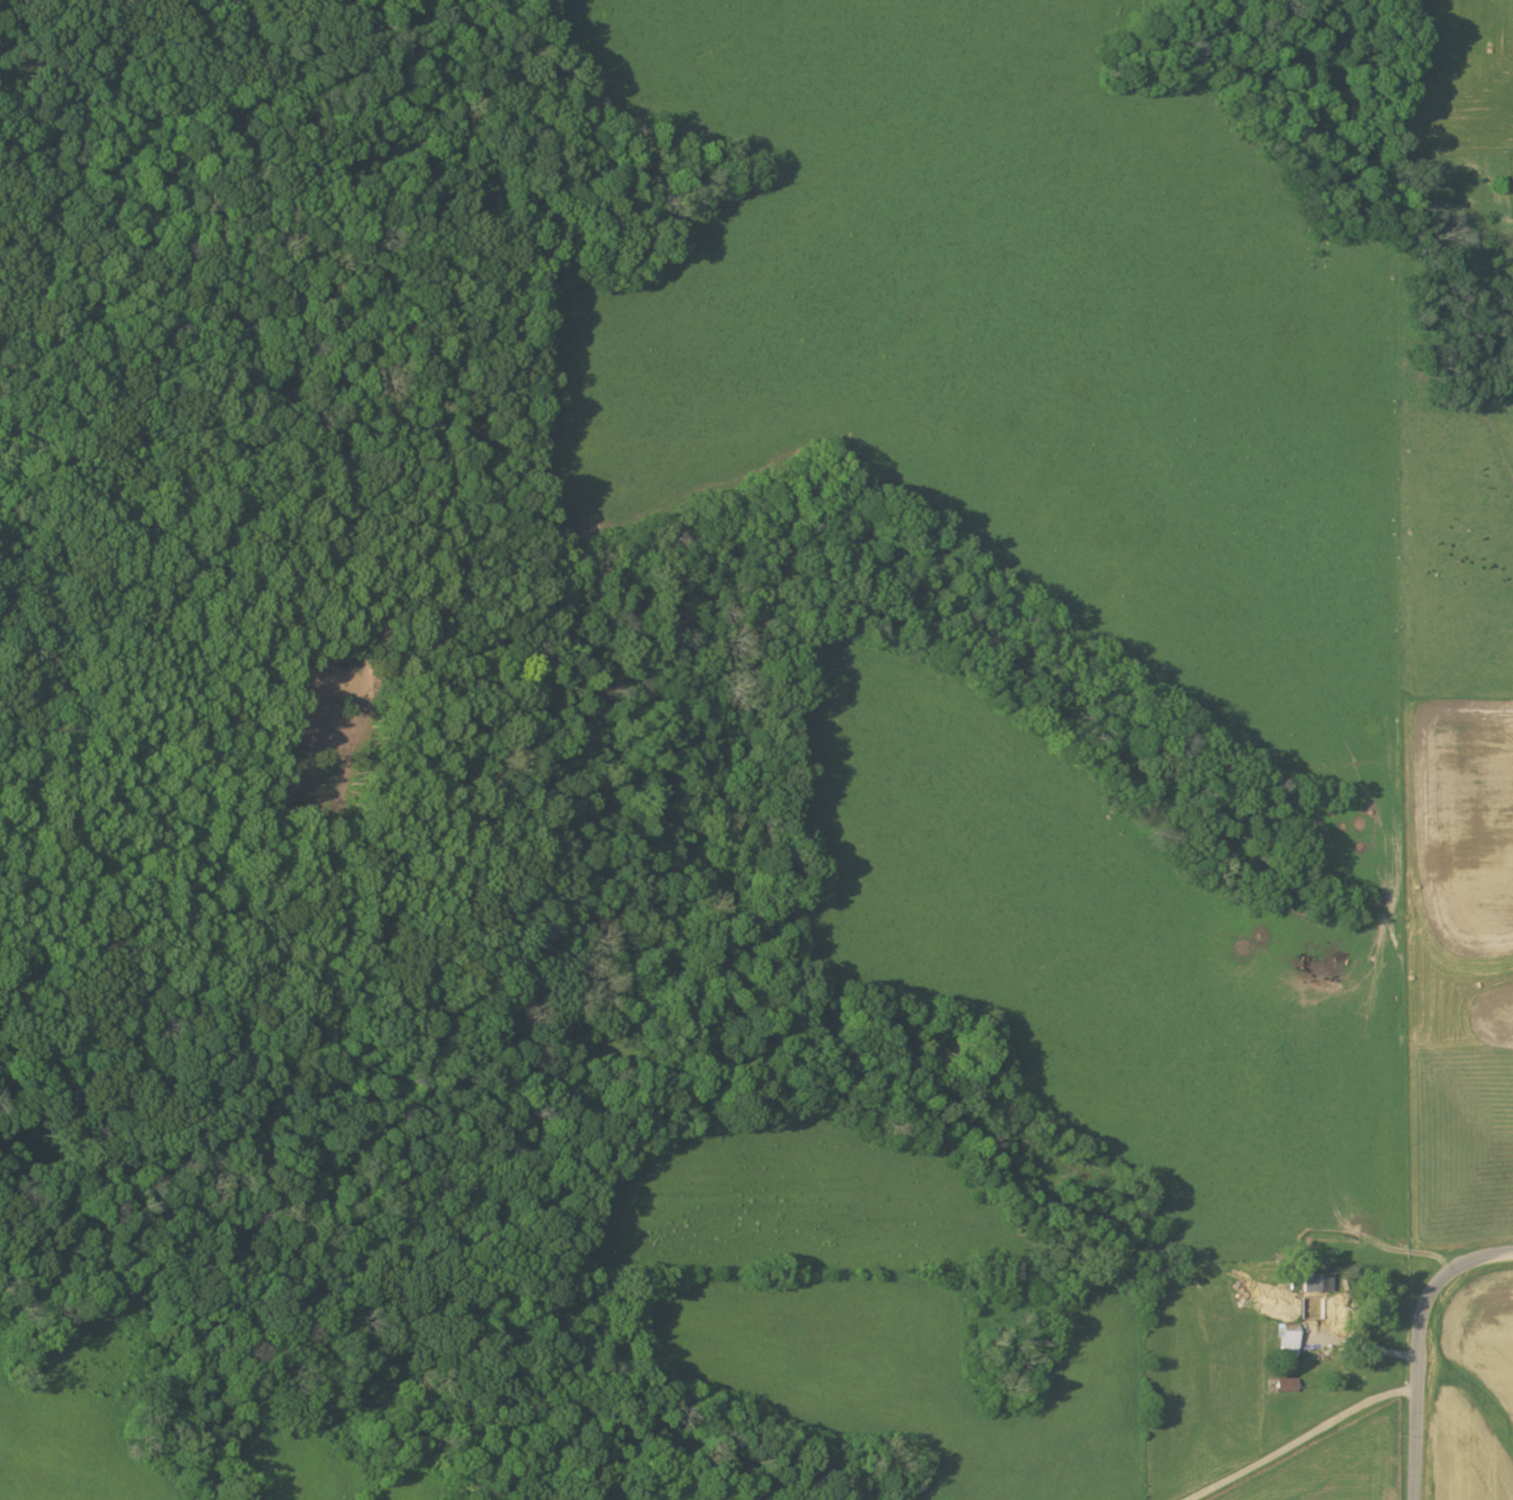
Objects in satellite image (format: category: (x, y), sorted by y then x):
building: (1316, 1286)
road: (1425, 1349)
building: (1287, 1386)
road: (1312, 1445)

